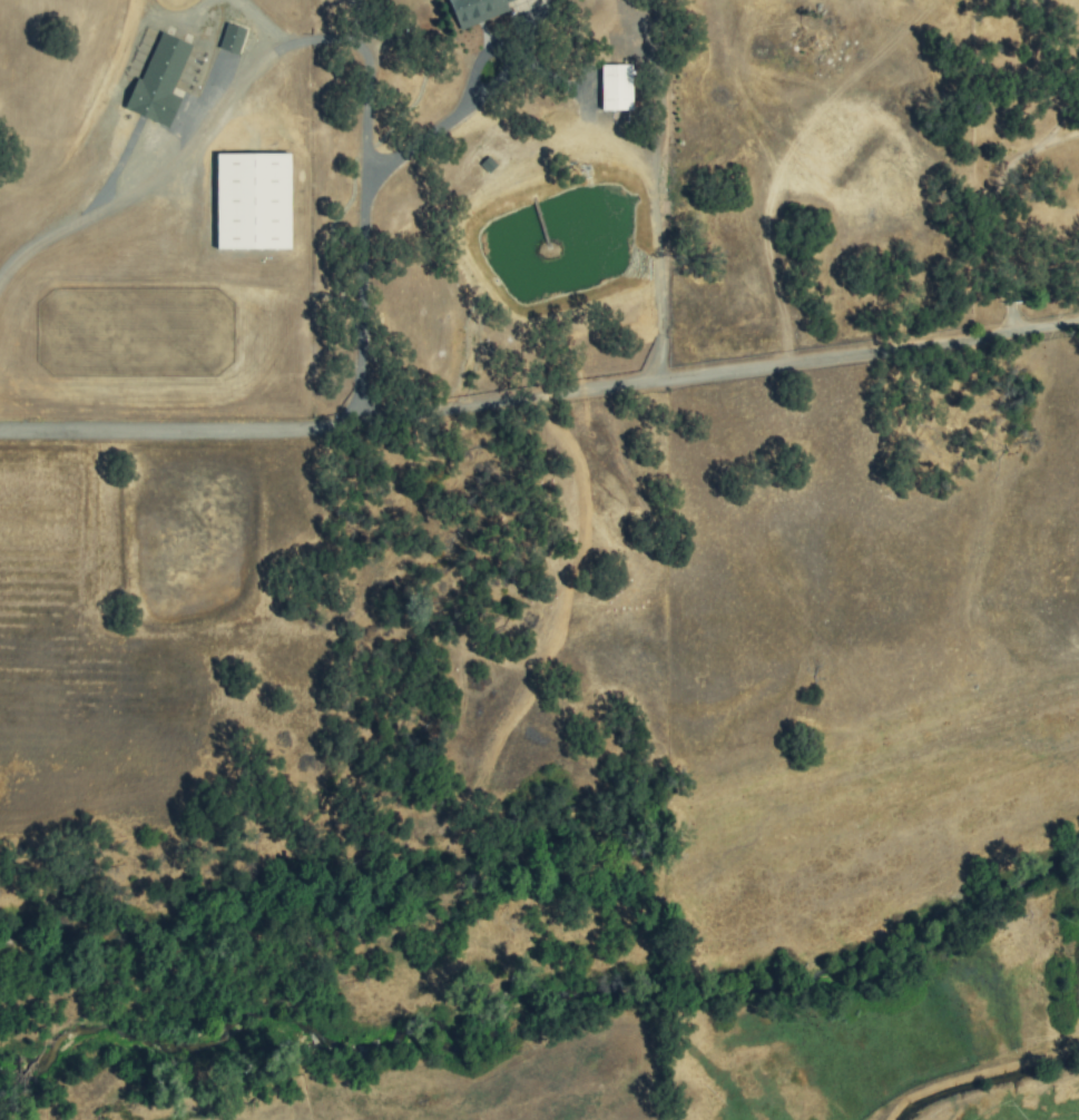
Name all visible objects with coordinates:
building: (475, 11)
building: (232, 38)
road: (325, 40)
building: (159, 80)
building: (616, 87)
road: (596, 115)
road: (1062, 118)
building: (252, 200)
road: (1000, 208)
road: (540, 397)

